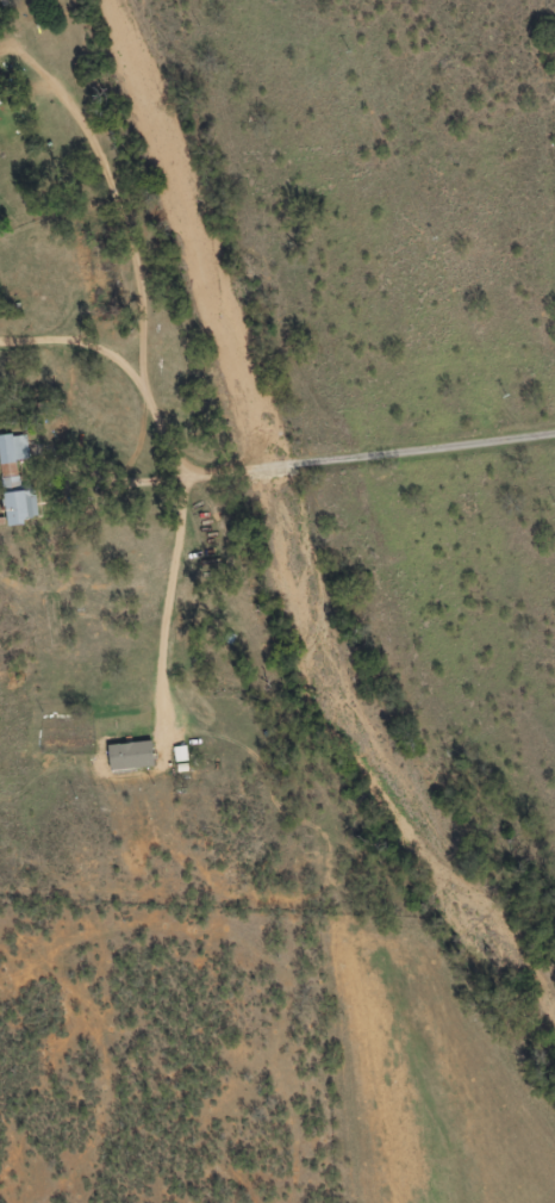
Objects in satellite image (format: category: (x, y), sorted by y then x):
building: (1, 101)
building: (17, 483)
road: (172, 491)
road: (252, 494)

